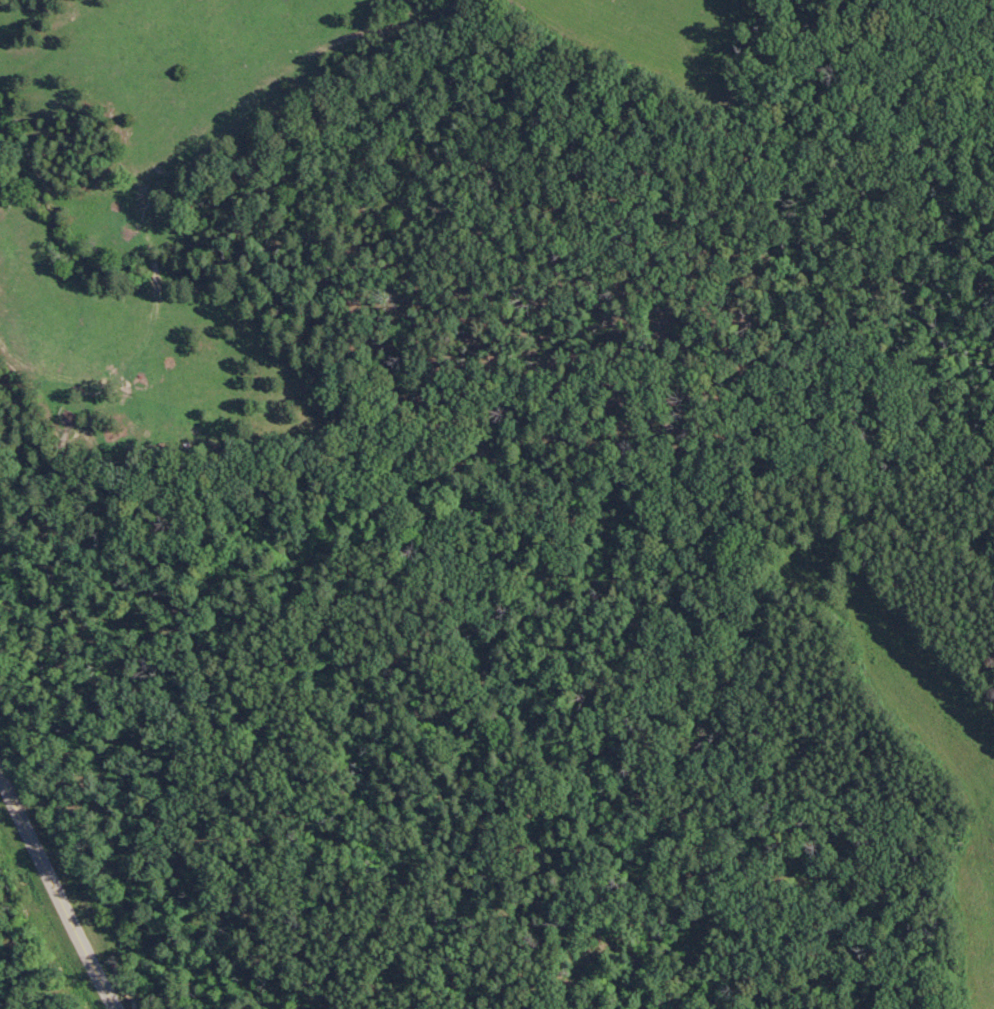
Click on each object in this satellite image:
road: (55, 895)

